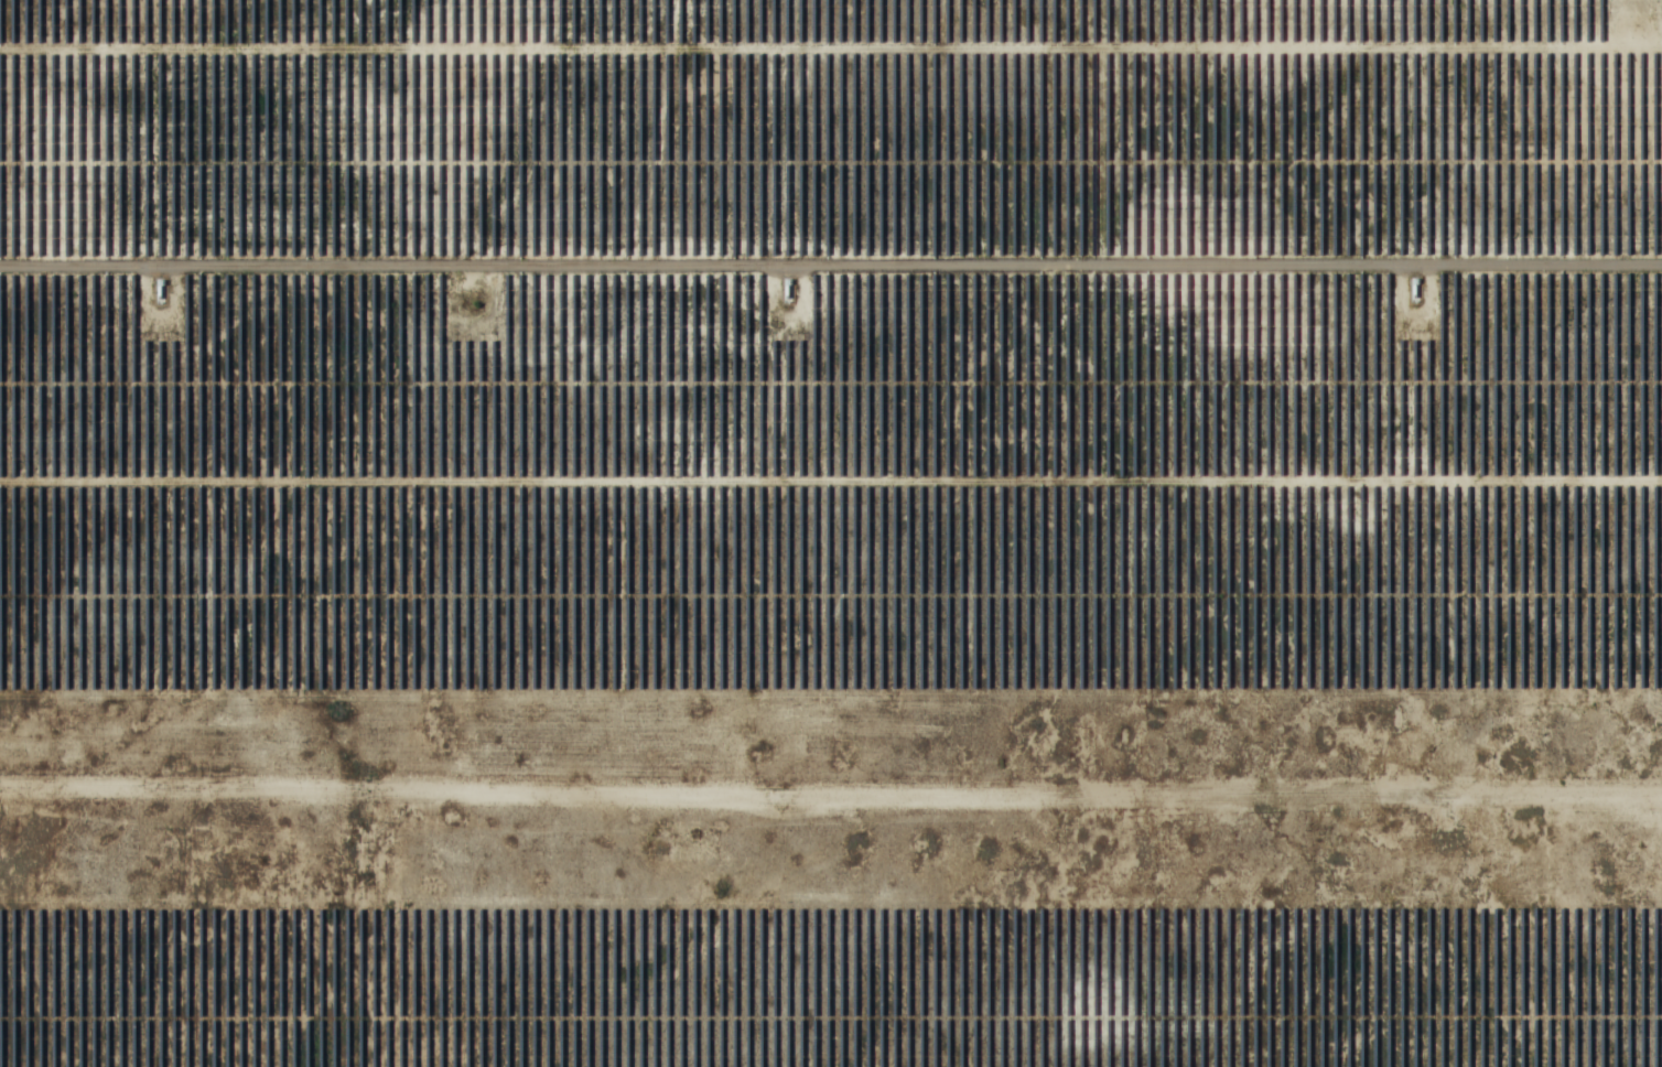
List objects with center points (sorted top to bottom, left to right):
solar farm: (831, 533)

